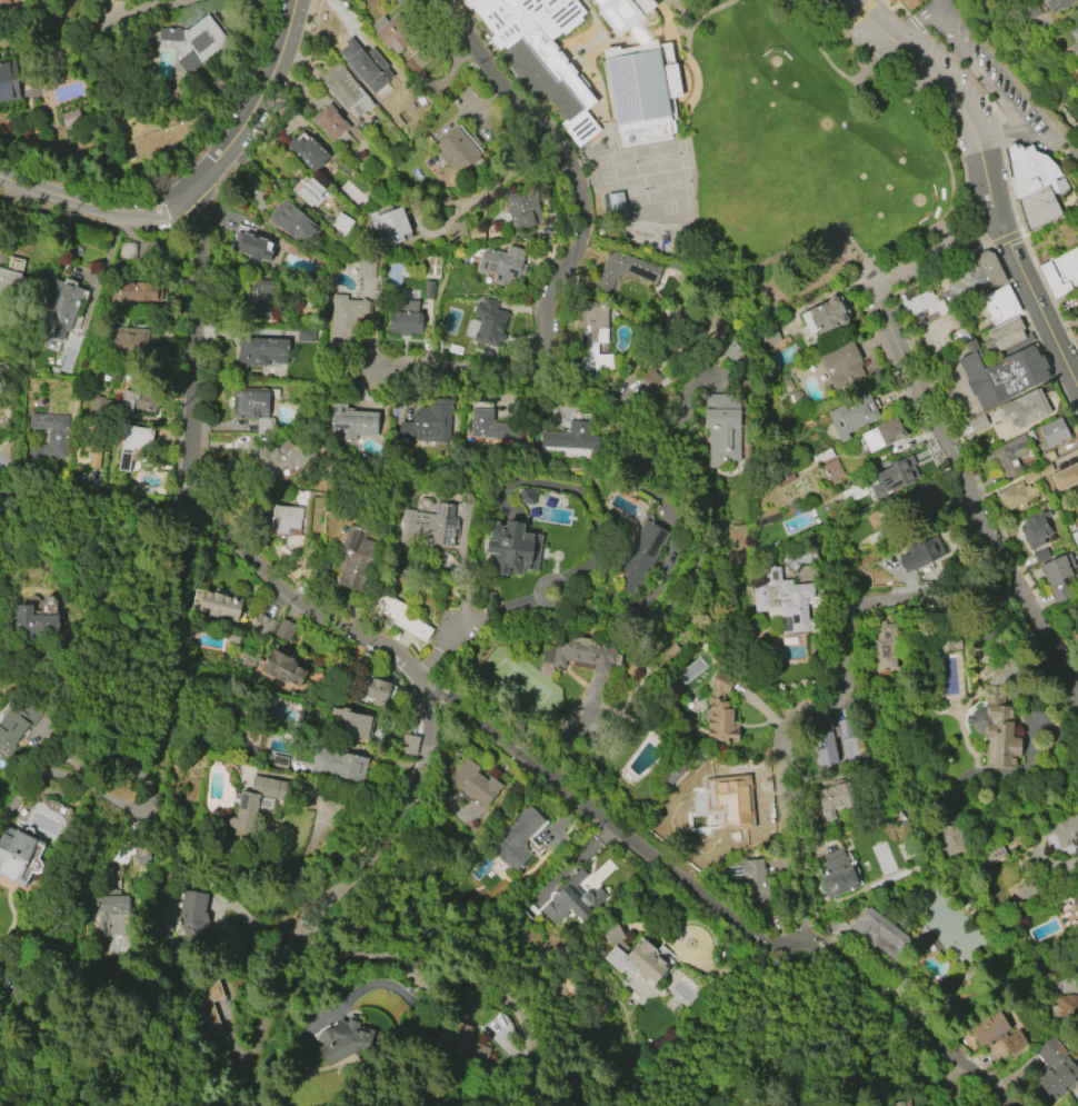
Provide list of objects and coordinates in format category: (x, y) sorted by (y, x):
building: (6, 0)
building: (892, 1)
road: (151, 2)
building: (909, 2)
building: (1057, 4)
road: (121, 6)
road: (708, 10)
building: (625, 12)
road: (858, 12)
road: (916, 19)
road: (687, 23)
road: (844, 27)
building: (389, 32)
building: (192, 41)
building: (1074, 41)
road: (824, 52)
building: (541, 53)
river: (1025, 60)
building: (417, 62)
building: (360, 66)
road: (975, 68)
road: (1012, 74)
road: (399, 79)
building: (7, 81)
building: (642, 90)
building: (345, 91)
road: (952, 94)
building: (70, 118)
building: (330, 124)
road: (1012, 127)
park: (799, 133)
road: (1058, 145)
building: (458, 148)
building: (308, 152)
road: (569, 167)
road: (199, 185)
building: (1034, 186)
park: (896, 189)
building: (310, 192)
building: (522, 209)
road: (460, 213)
building: (292, 222)
building: (342, 223)
building: (390, 226)
building: (457, 228)
road: (907, 239)
building: (251, 245)
building: (501, 265)
building: (366, 269)
building: (623, 270)
building: (1061, 273)
building: (977, 277)
building: (10, 282)
building: (138, 292)
building: (257, 297)
building: (916, 301)
building: (1000, 303)
road: (1037, 307)
building: (59, 308)
building: (822, 317)
building: (345, 318)
building: (491, 318)
building: (405, 322)
building: (685, 327)
building: (593, 333)
building: (768, 335)
building: (1007, 337)
building: (133, 341)
road: (194, 347)
building: (261, 351)
building: (841, 366)
road: (471, 368)
building: (1000, 375)
building: (649, 379)
road: (642, 398)
building: (137, 402)
building: (1026, 408)
building: (256, 412)
building: (851, 416)
building: (351, 422)
building: (428, 422)
building: (487, 422)
building: (977, 422)
building: (721, 427)
road: (938, 429)
building: (1052, 432)
building: (882, 435)
building: (51, 437)
building: (570, 438)
building: (133, 444)
building: (1009, 455)
building: (271, 457)
building: (831, 470)
building: (782, 477)
building: (1065, 477)
building: (889, 479)
road: (97, 489)
building: (526, 496)
building: (1015, 496)
building: (919, 501)
road: (110, 520)
building: (286, 520)
building: (427, 528)
building: (1035, 531)
building: (1075, 537)
building: (512, 547)
road: (712, 547)
building: (925, 552)
building: (641, 555)
building: (800, 557)
building: (355, 558)
building: (1056, 577)
building: (782, 599)
building: (220, 608)
building: (398, 617)
road: (471, 617)
building: (36, 618)
building: (261, 626)
building: (282, 632)
building: (947, 646)
building: (881, 650)
building: (580, 652)
building: (282, 669)
building: (379, 693)
road: (838, 698)
building: (718, 716)
building: (349, 724)
building: (999, 726)
building: (14, 727)
road: (86, 728)
building: (409, 745)
building: (824, 749)
building: (340, 765)
road: (64, 778)
building: (475, 784)
building: (835, 800)
building: (733, 801)
building: (256, 804)
road: (600, 816)
building: (949, 827)
building: (1065, 830)
building: (515, 837)
building: (16, 855)
building: (142, 855)
building: (838, 877)
building: (749, 879)
building: (1025, 890)
building: (570, 899)
building: (1075, 905)
building: (114, 913)
building: (197, 920)
building: (879, 933)
road: (323, 946)
building: (631, 956)
building: (207, 1006)
building: (1065, 1007)
road: (272, 1008)
building: (996, 1033)
building: (343, 1037)
building: (456, 1042)
building: (1056, 1069)

